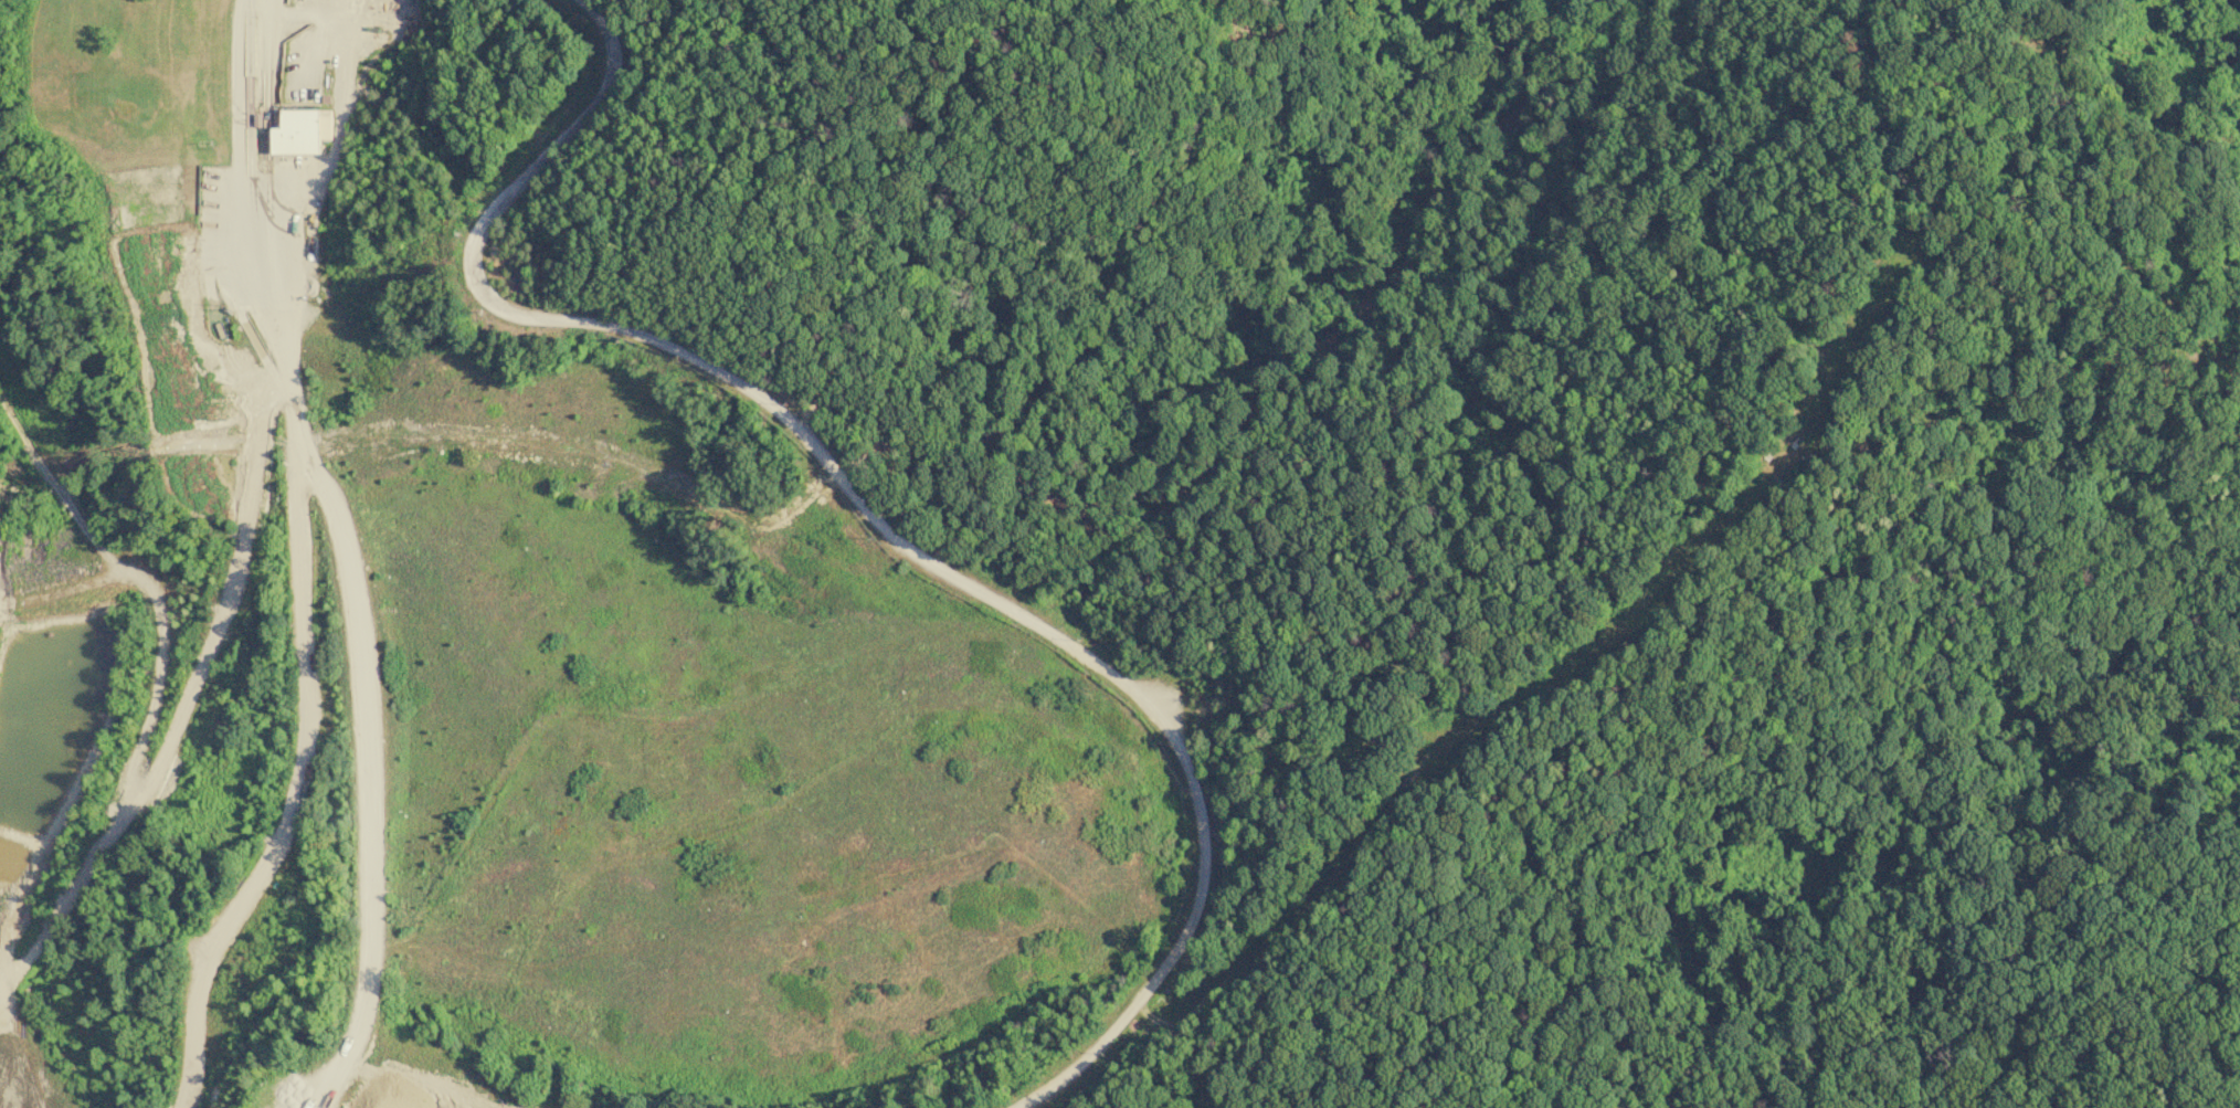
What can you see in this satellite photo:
building: (302, 130)
road: (869, 519)
road: (299, 564)
landfill: (511, 641)
road: (189, 695)
road: (369, 762)

